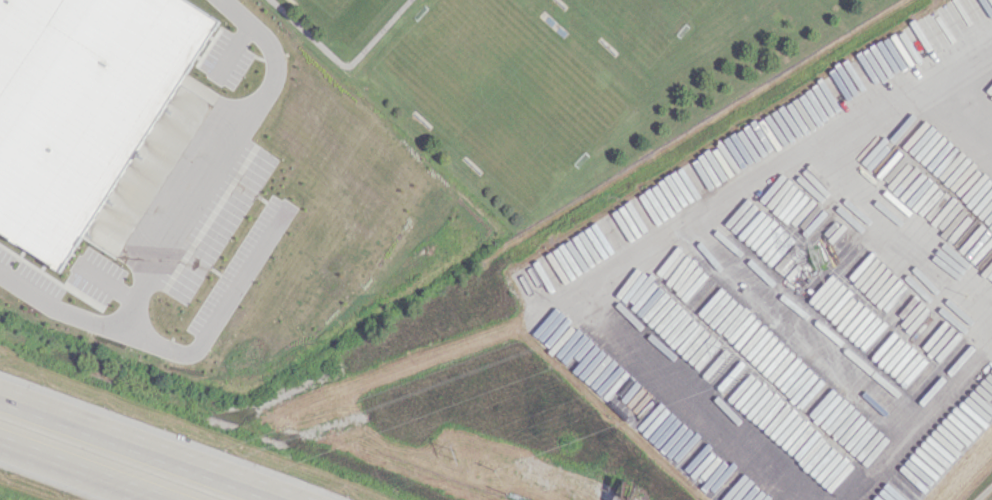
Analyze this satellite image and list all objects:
park: (332, 8)
park: (633, 22)
road: (938, 72)
park: (496, 90)
building: (79, 101)
road: (872, 111)
building: (113, 162)
road: (180, 212)
building: (106, 240)
power tower: (812, 258)
road: (589, 308)
road: (220, 314)
road: (974, 316)
road: (801, 323)
power tower: (728, 351)
road: (140, 448)
power tower: (454, 453)
road: (85, 469)

